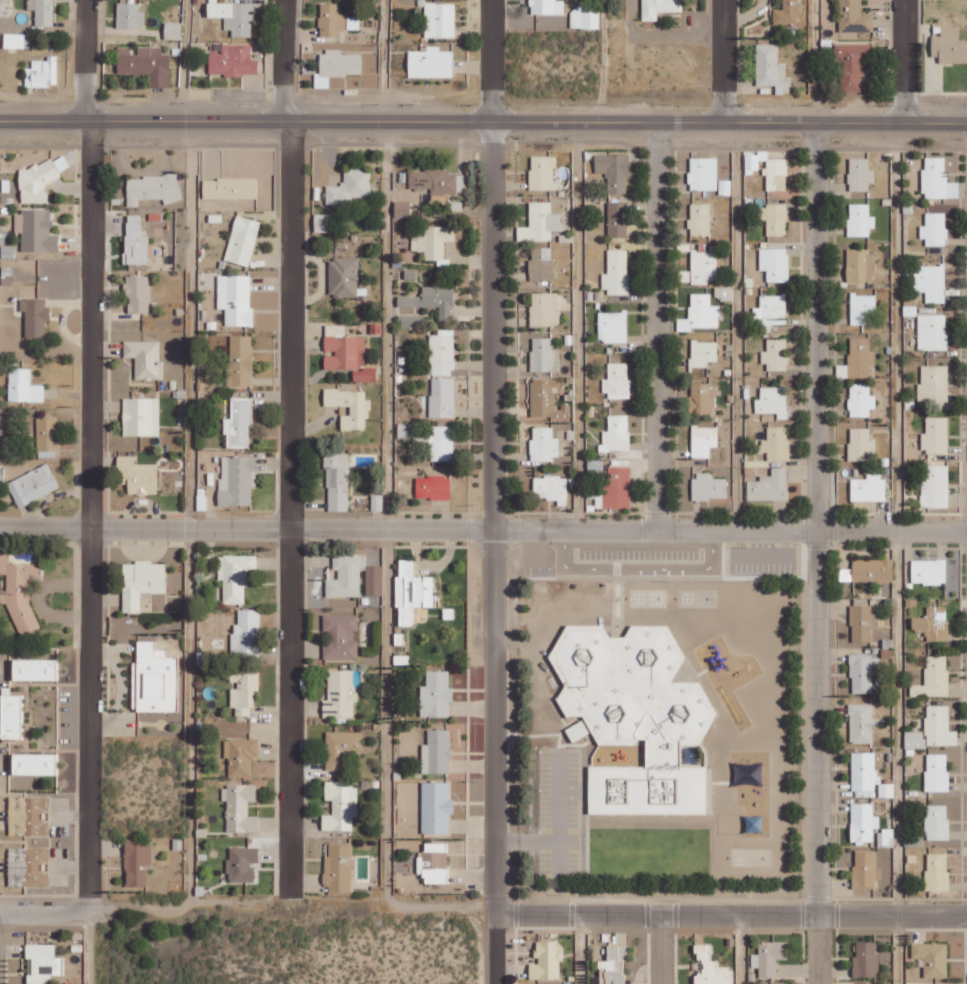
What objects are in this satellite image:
building: (547, 7)
building: (659, 8)
building: (42, 12)
building: (787, 13)
building: (130, 15)
building: (233, 17)
building: (584, 17)
building: (853, 18)
building: (331, 20)
building: (440, 20)
building: (172, 31)
building: (16, 41)
building: (949, 46)
road: (180, 61)
building: (233, 61)
road: (384, 61)
road: (603, 61)
road: (723, 61)
road: (814, 61)
road: (905, 62)
building: (430, 63)
building: (145, 65)
building: (851, 65)
building: (337, 67)
building: (769, 68)
building: (42, 73)
road: (483, 121)
building: (768, 170)
building: (614, 171)
building: (542, 173)
building: (860, 174)
building: (707, 176)
building: (39, 179)
building: (937, 179)
building: (433, 180)
building: (461, 183)
building: (350, 187)
building: (152, 188)
building: (229, 188)
building: (402, 209)
building: (617, 219)
building: (774, 219)
building: (700, 220)
building: (860, 220)
building: (323, 222)
building: (540, 223)
building: (134, 224)
building: (935, 229)
building: (36, 230)
building: (242, 240)
building: (433, 242)
building: (136, 249)
building: (541, 263)
building: (775, 264)
building: (860, 265)
building: (704, 266)
building: (616, 272)
building: (343, 277)
building: (931, 282)
building: (138, 293)
building: (235, 299)
building: (432, 300)
building: (862, 308)
building: (545, 309)
building: (771, 312)
building: (700, 314)
building: (35, 316)
building: (411, 321)
road: (578, 324)
road: (655, 325)
building: (612, 326)
road: (735, 326)
building: (932, 332)
building: (442, 353)
building: (703, 353)
building: (347, 354)
building: (542, 354)
building: (776, 355)
building: (145, 359)
building: (240, 360)
building: (858, 360)
building: (617, 381)
building: (933, 384)
building: (23, 386)
building: (442, 397)
building: (702, 398)
building: (546, 399)
building: (861, 400)
building: (773, 401)
building: (350, 407)
building: (141, 417)
building: (239, 424)
building: (409, 431)
building: (47, 433)
building: (616, 434)
building: (935, 435)
building: (703, 441)
building: (441, 443)
building: (544, 444)
building: (776, 444)
building: (860, 445)
road: (290, 448)
road: (89, 456)
building: (137, 473)
building: (237, 480)
building: (337, 482)
building: (33, 485)
building: (769, 486)
building: (433, 487)
building: (709, 487)
building: (935, 487)
building: (551, 488)
building: (869, 488)
building: (615, 489)
road: (495, 491)
building: (377, 502)
road: (383, 512)
road: (189, 514)
road: (483, 528)
road: (817, 553)
road: (894, 554)
building: (929, 571)
building: (346, 575)
building: (235, 576)
building: (374, 580)
building: (142, 582)
building: (19, 591)
building: (412, 592)
building: (863, 622)
building: (933, 623)
building: (246, 630)
building: (341, 636)
building: (35, 669)
building: (862, 673)
building: (934, 678)
building: (155, 679)
building: (243, 690)
building: (340, 694)
building: (436, 694)
building: (635, 715)
building: (11, 716)
building: (861, 723)
building: (934, 729)
building: (341, 748)
building: (437, 752)
building: (240, 756)
building: (35, 763)
building: (937, 772)
building: (868, 774)
building: (340, 805)
building: (240, 807)
building: (436, 807)
building: (27, 815)
building: (937, 821)
building: (863, 823)
building: (886, 838)
building: (914, 840)
building: (137, 862)
building: (242, 864)
building: (433, 864)
building: (27, 866)
building: (338, 869)
building: (865, 870)
building: (937, 871)
road: (248, 900)
road: (731, 916)
road: (578, 950)
road: (660, 950)
road: (740, 950)
building: (769, 957)
building: (866, 958)
building: (932, 958)
building: (547, 961)
building: (42, 963)
building: (614, 965)
building: (710, 968)
building: (934, 983)

